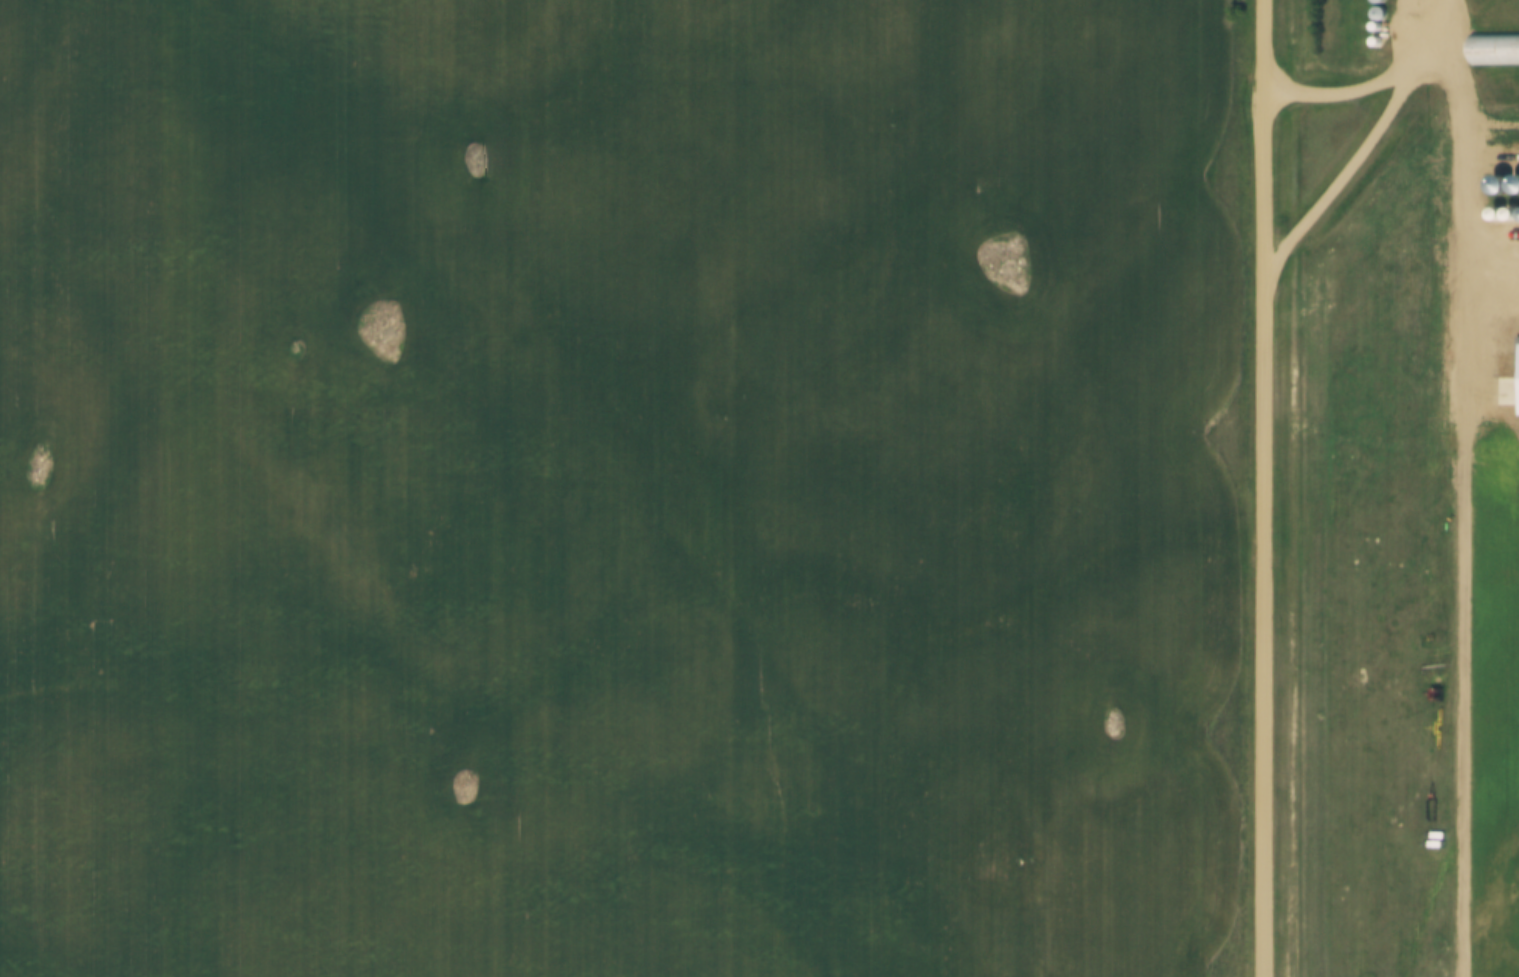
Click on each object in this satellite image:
road: (1430, 7)
road: (1435, 7)
building: (1503, 48)
road: (1364, 83)
road: (1462, 144)
road: (1343, 172)
road: (1262, 488)

